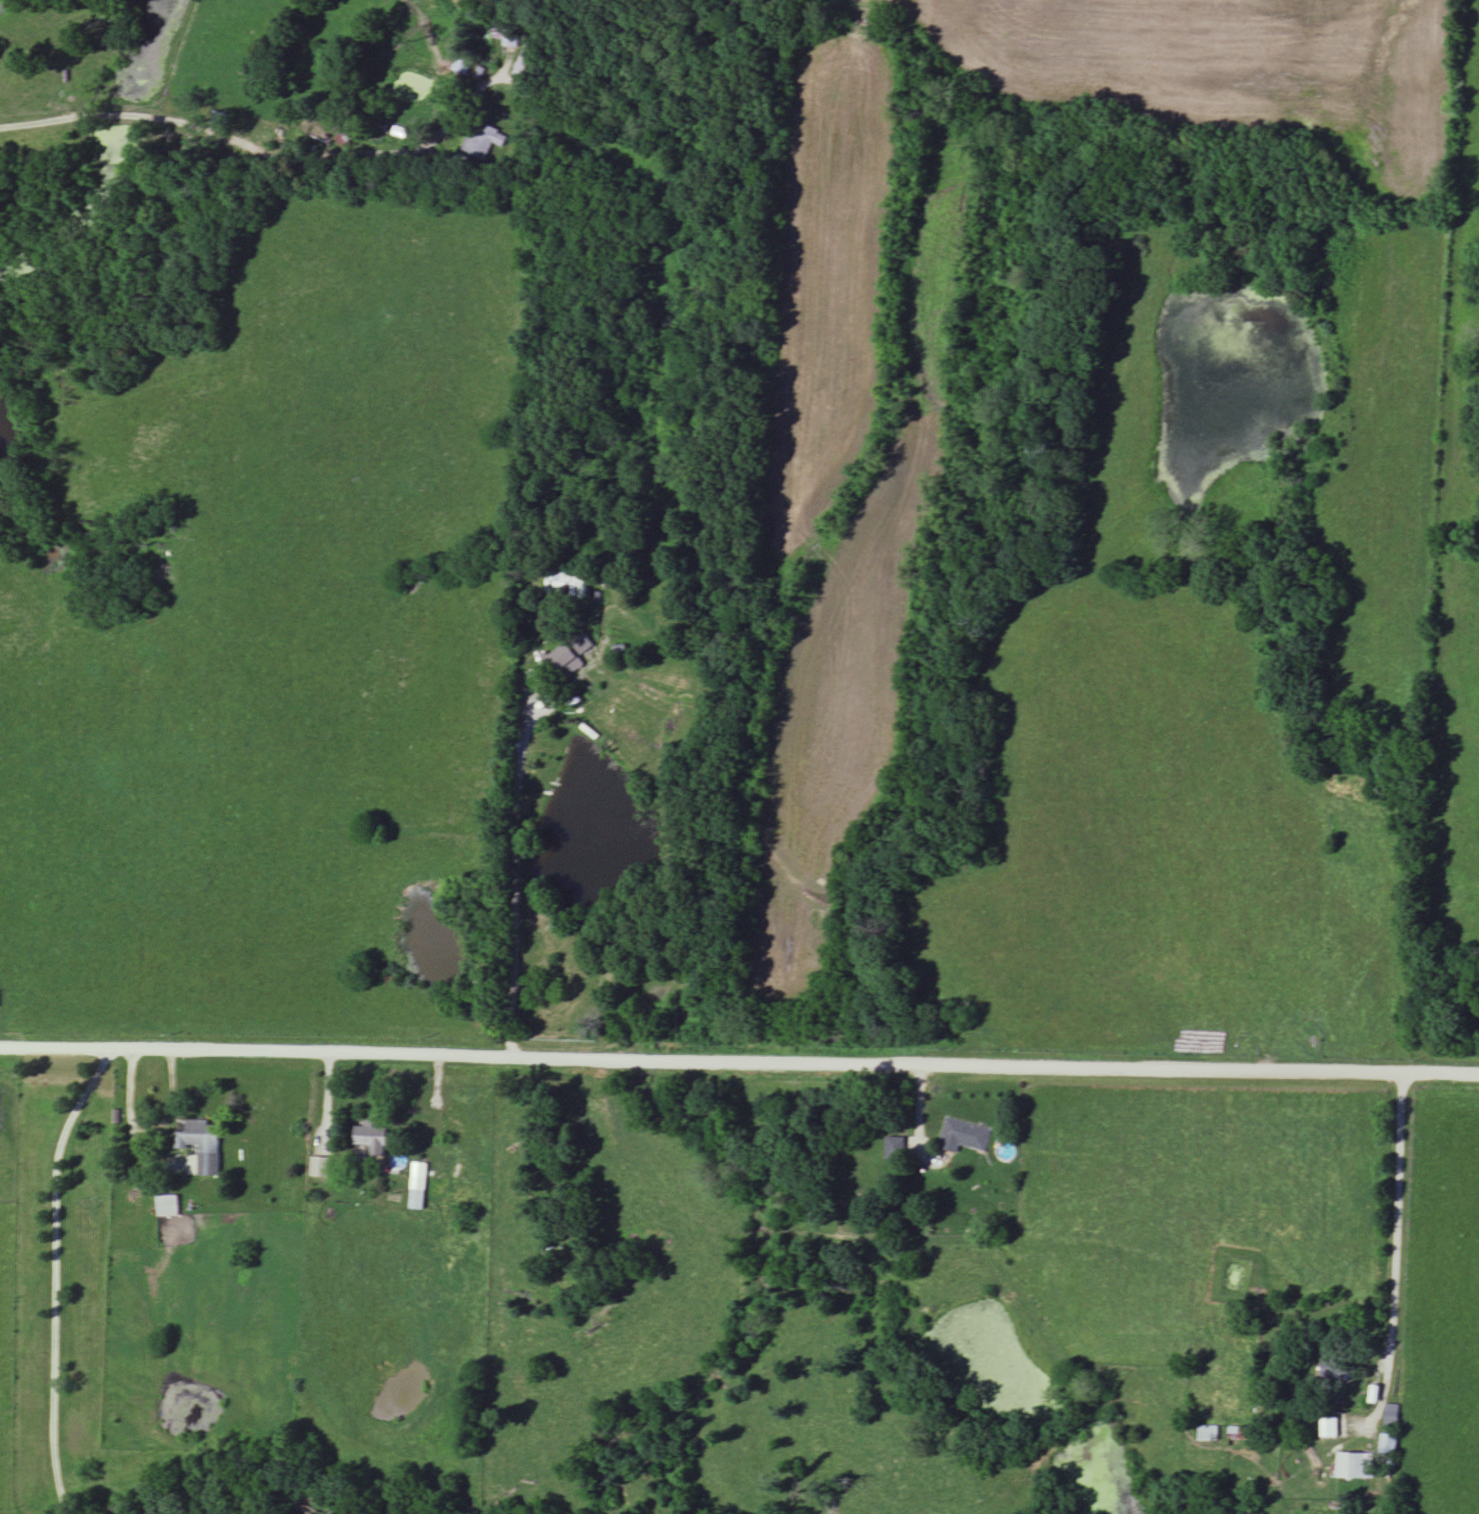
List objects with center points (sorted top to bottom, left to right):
building: (506, 34)
building: (462, 68)
crop: (1224, 68)
building: (520, 71)
building: (221, 121)
building: (484, 140)
road: (264, 152)
crop: (842, 457)
building: (569, 582)
building: (564, 657)
road: (515, 859)
road: (739, 1062)
building: (462, 1123)
road: (918, 1124)
building: (199, 1135)
building: (965, 1136)
building: (371, 1140)
building: (895, 1149)
road: (159, 1155)
building: (208, 1165)
building: (319, 1169)
building: (418, 1187)
building: (168, 1207)
road: (1394, 1259)
road: (54, 1276)
building: (1336, 1371)
building: (1330, 1428)
building: (1391, 1431)
building: (1239, 1435)
building: (1355, 1467)

